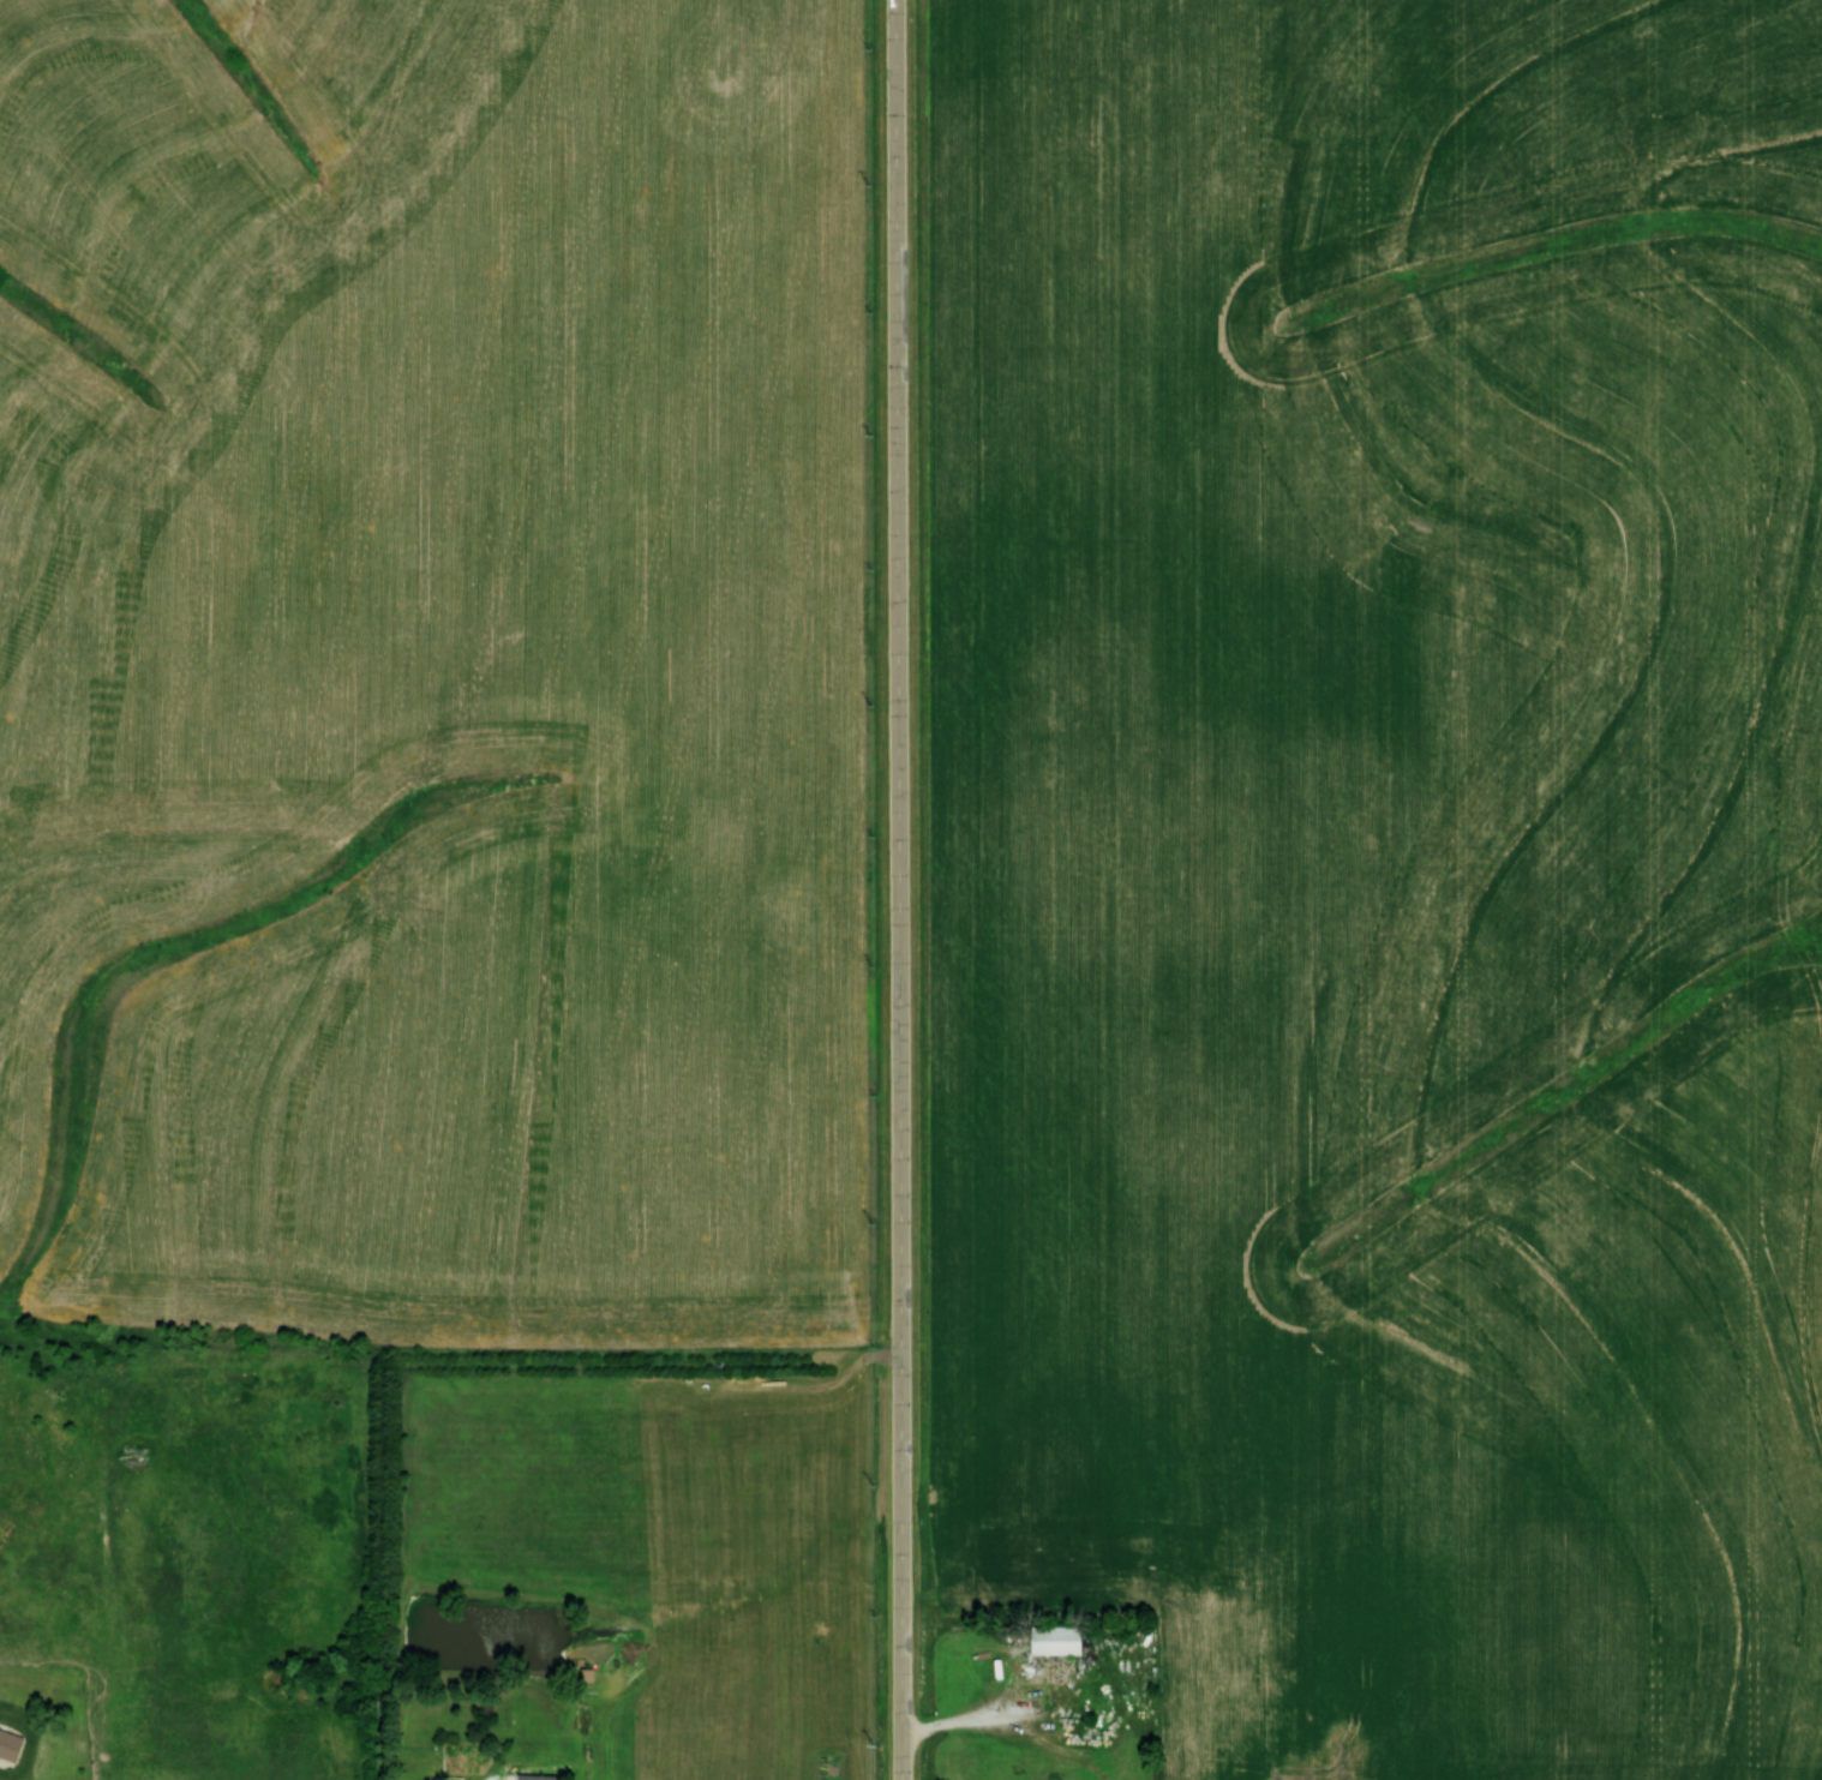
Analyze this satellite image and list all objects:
road: (900, 889)
building: (1049, 1642)
road: (988, 1718)
road: (110, 1742)
building: (13, 1743)
building: (546, 1776)

